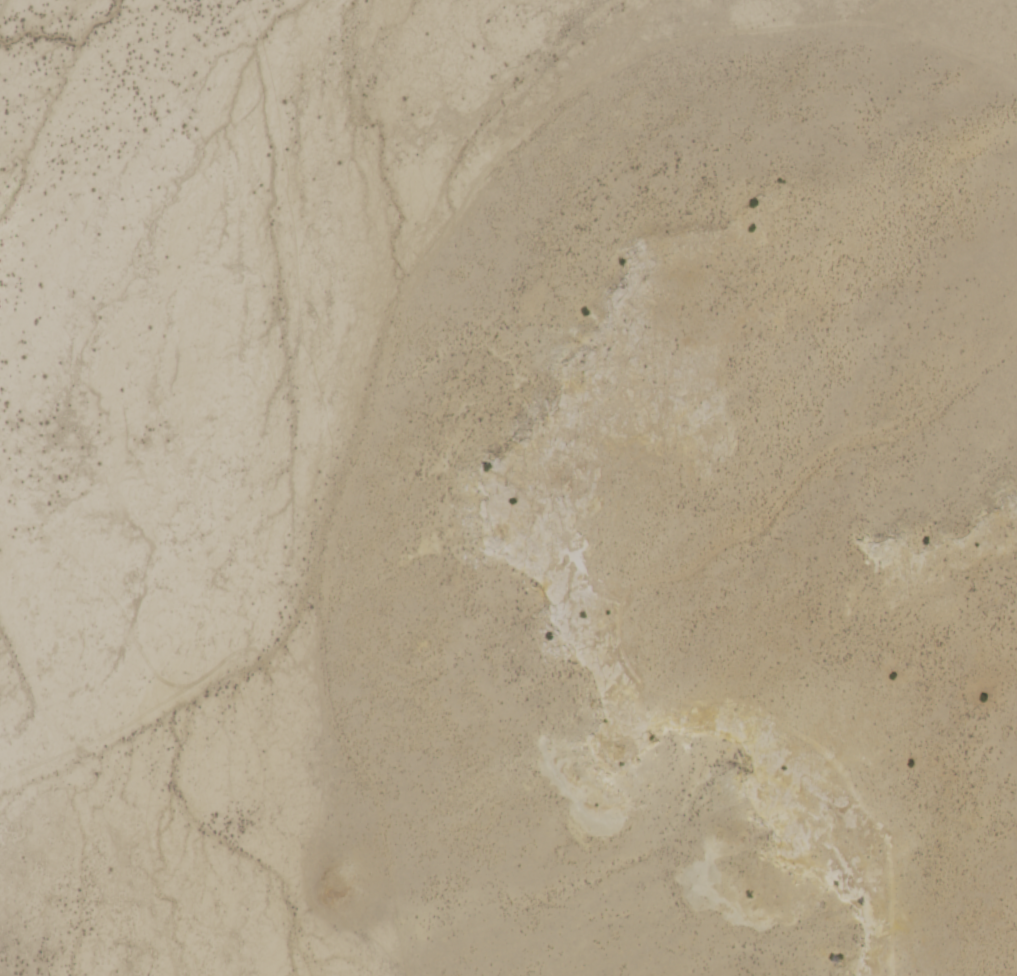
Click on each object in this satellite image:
river: (48, 25)

